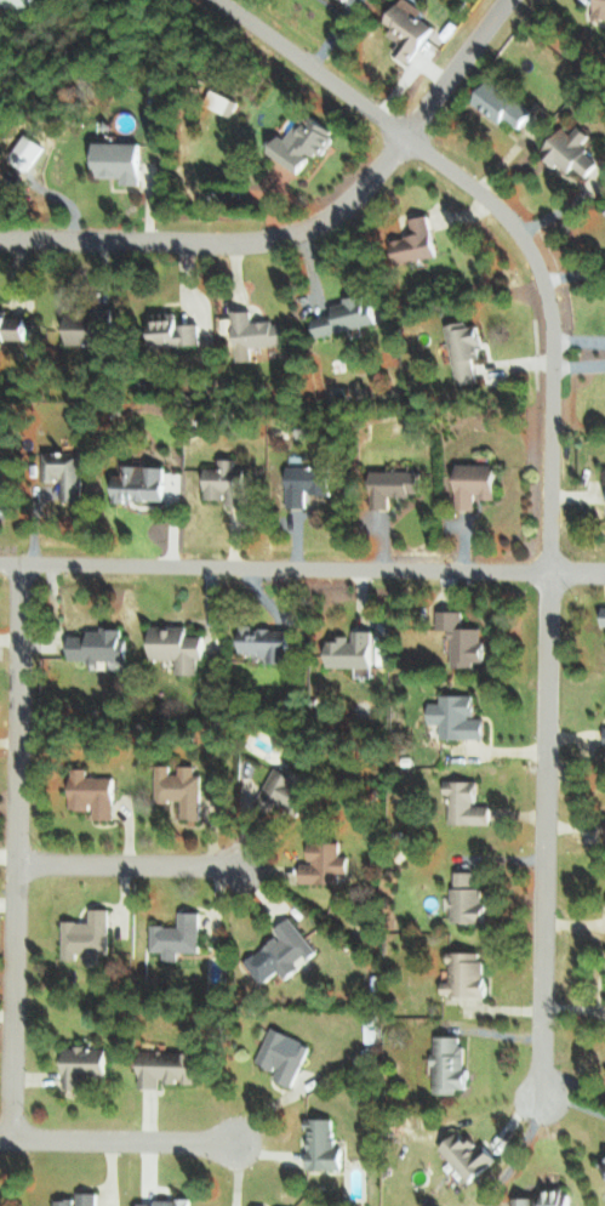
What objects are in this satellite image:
building: (18, 2)
building: (600, 7)
building: (412, 29)
building: (503, 104)
building: (233, 106)
building: (307, 142)
building: (573, 150)
building: (122, 160)
road: (307, 233)
building: (418, 240)
building: (350, 314)
building: (15, 326)
building: (93, 326)
building: (177, 330)
building: (258, 334)
building: (467, 349)
building: (68, 472)
building: (144, 482)
building: (230, 483)
building: (310, 483)
building: (478, 483)
building: (396, 485)
road: (549, 517)
road: (302, 569)
building: (464, 638)
building: (270, 643)
building: (102, 645)
building: (181, 647)
building: (354, 649)
building: (460, 717)
building: (182, 787)
building: (284, 790)
building: (95, 793)
building: (468, 803)
road: (22, 854)
road: (160, 859)
building: (326, 863)
building: (469, 898)
building: (179, 935)
building: (89, 937)
building: (282, 952)
building: (468, 974)
building: (285, 1054)
building: (87, 1064)
building: (451, 1064)
building: (170, 1068)
road: (141, 1142)
building: (324, 1145)
building: (470, 1155)
building: (603, 1162)
building: (549, 1198)
building: (81, 1200)
building: (166, 1202)

